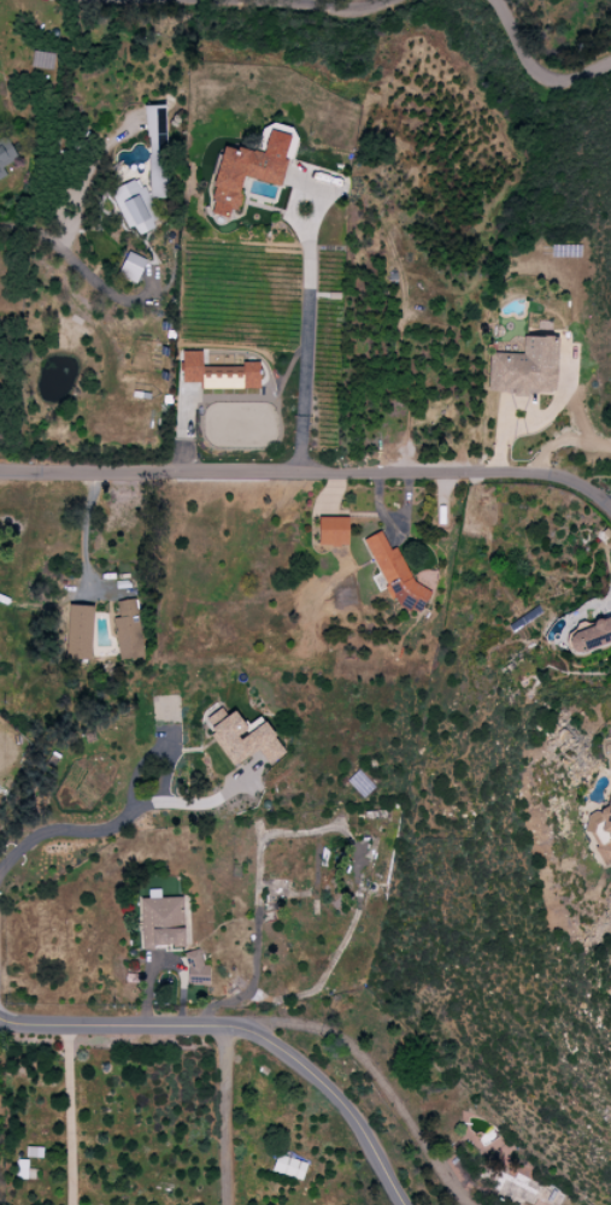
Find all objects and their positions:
road: (333, 7)
road: (537, 69)
building: (155, 151)
building: (5, 154)
building: (245, 171)
building: (130, 206)
road: (75, 263)
building: (130, 266)
road: (304, 340)
building: (523, 368)
building: (217, 372)
road: (560, 441)
road: (310, 472)
building: (331, 530)
road: (86, 540)
building: (394, 574)
building: (127, 629)
building: (77, 631)
building: (589, 635)
road: (163, 735)
building: (241, 736)
road: (207, 799)
road: (63, 830)
building: (600, 831)
building: (160, 922)
building: (194, 968)
road: (239, 1030)
road: (375, 1074)
road: (70, 1113)
road: (231, 1116)
building: (33, 1151)
building: (288, 1165)

